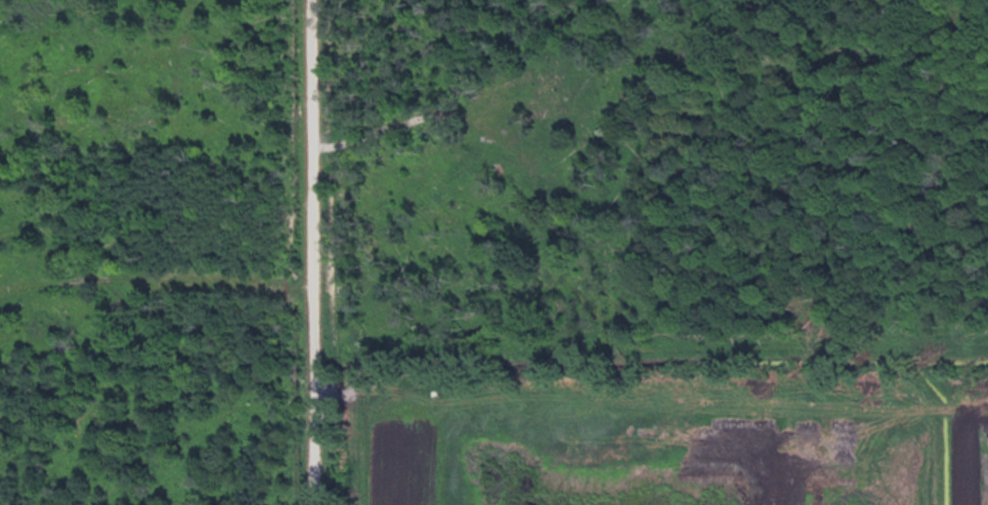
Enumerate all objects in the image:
road: (310, 252)
crop: (387, 457)
crop: (962, 461)

